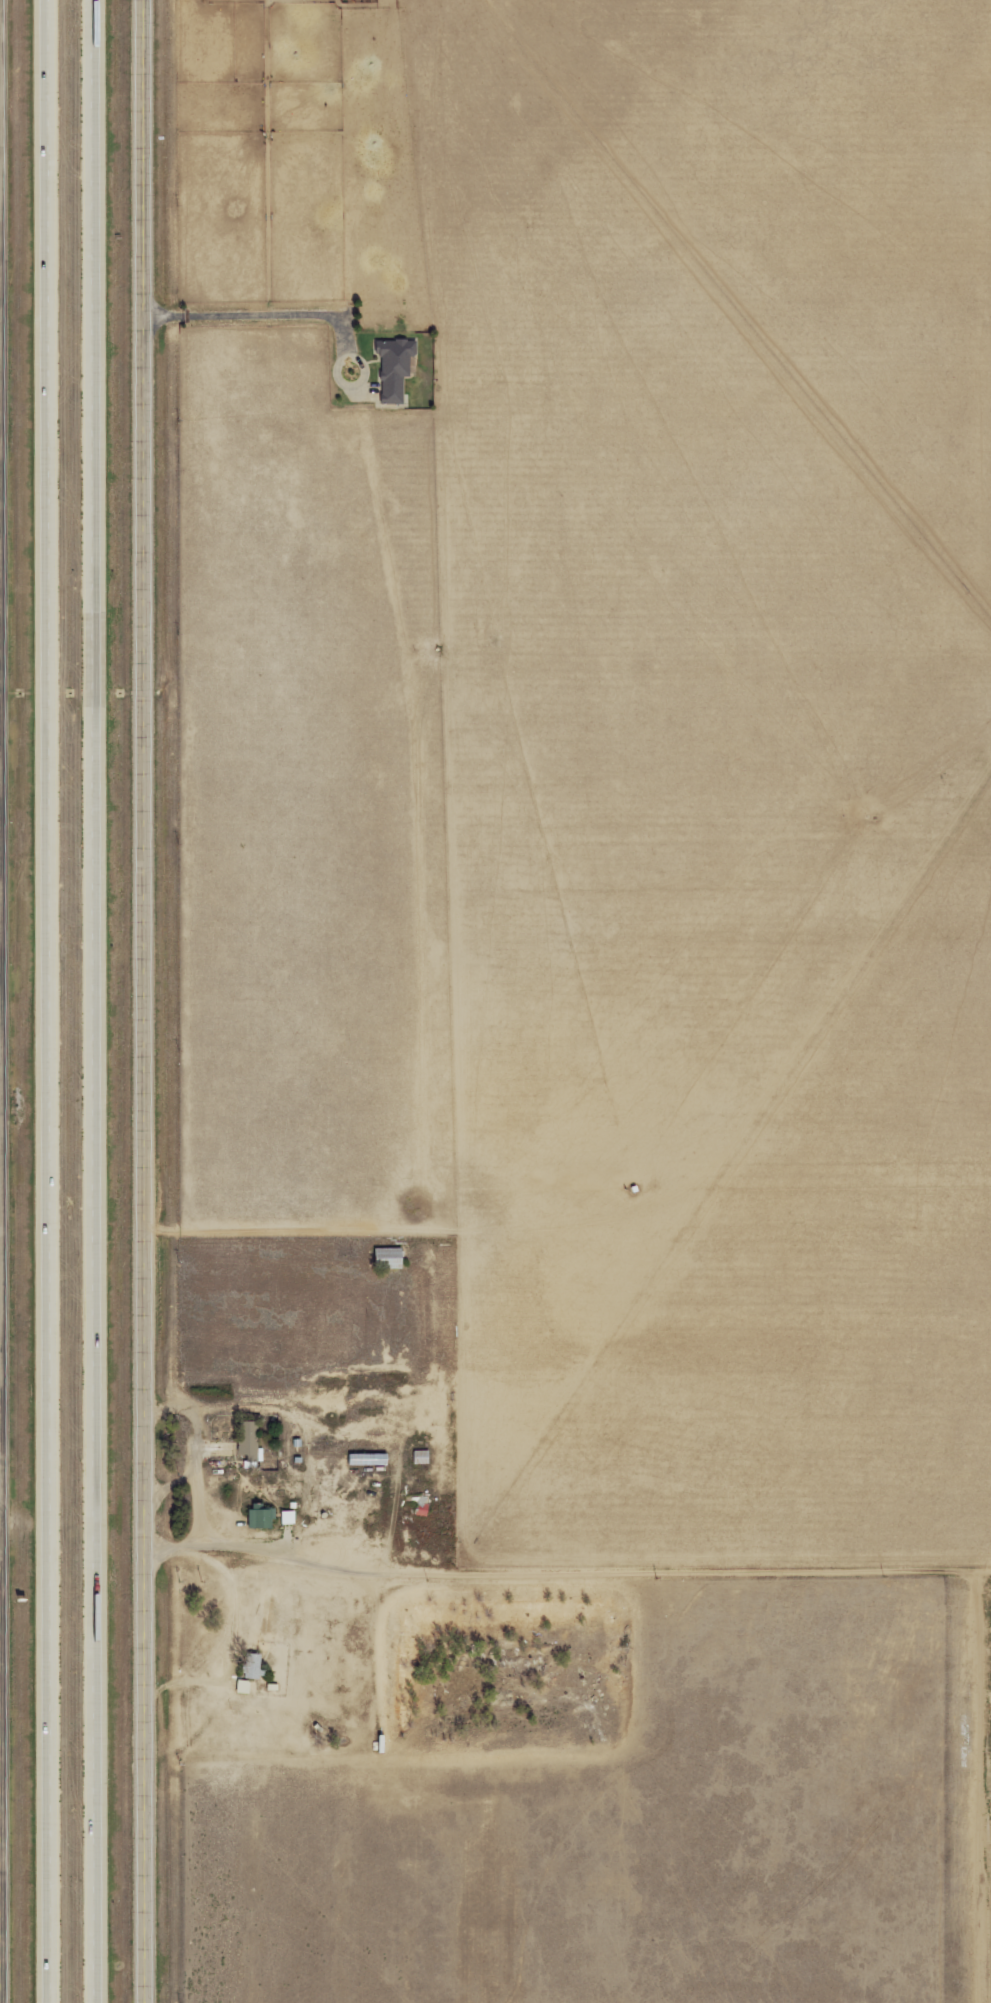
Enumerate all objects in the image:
road: (292, 315)
road: (6, 1001)
road: (55, 1001)
road: (106, 1001)
road: (157, 1001)
building: (250, 1442)
building: (262, 1520)
road: (4, 1533)
road: (574, 1564)

